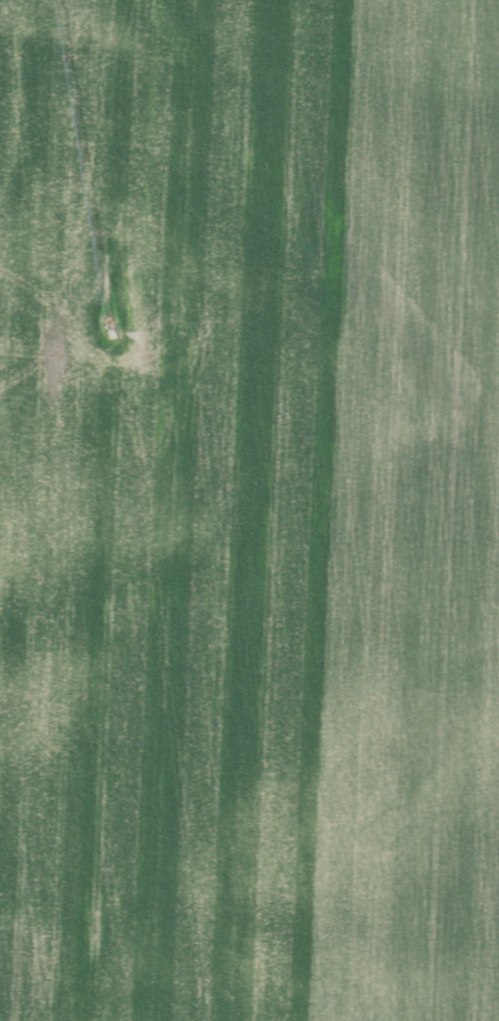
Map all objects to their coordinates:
crop: (249, 510)

